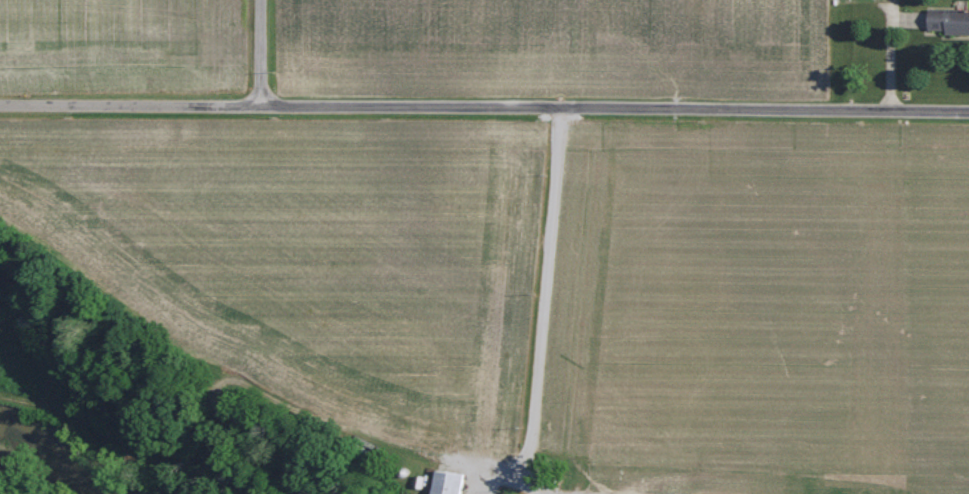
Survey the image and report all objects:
building: (949, 21)
road: (887, 48)
road: (257, 52)
road: (484, 105)
road: (542, 302)
building: (447, 483)
road: (521, 483)

